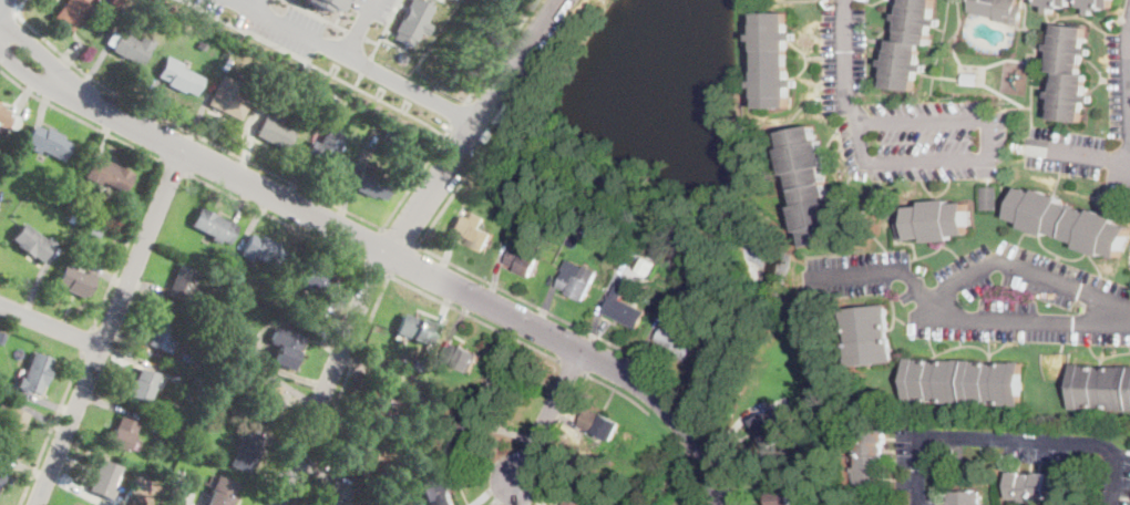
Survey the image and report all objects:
road: (2, 3)
building: (326, 3)
road: (254, 4)
building: (1056, 4)
building: (1097, 4)
road: (19, 6)
building: (998, 10)
road: (339, 11)
building: (71, 12)
parking lot: (369, 12)
road: (317, 14)
parking lot: (1127, 17)
building: (412, 21)
road: (7, 23)
road: (289, 27)
road: (357, 27)
road: (383, 28)
parking lot: (296, 30)
road: (355, 32)
road: (370, 40)
building: (910, 44)
road: (1127, 45)
building: (132, 47)
building: (203, 47)
road: (34, 51)
road: (503, 51)
building: (773, 61)
road: (844, 62)
road: (366, 64)
road: (28, 68)
road: (336, 68)
building: (265, 72)
building: (1070, 73)
building: (178, 76)
road: (358, 79)
road: (411, 86)
road: (1126, 94)
building: (227, 97)
building: (0, 102)
building: (335, 111)
parking lot: (1118, 113)
road: (461, 115)
parking lot: (902, 116)
road: (79, 117)
building: (8, 120)
road: (191, 132)
building: (274, 132)
building: (390, 136)
building: (48, 142)
parking lot: (1065, 150)
road: (1083, 152)
building: (327, 154)
road: (989, 157)
road: (175, 167)
building: (107, 173)
road: (417, 178)
building: (370, 182)
building: (485, 182)
building: (810, 186)
building: (989, 198)
building: (543, 214)
road: (276, 217)
building: (71, 218)
building: (934, 220)
building: (1070, 221)
building: (214, 226)
building: (472, 229)
building: (93, 231)
road: (399, 238)
road: (397, 239)
building: (32, 241)
road: (127, 244)
road: (935, 248)
road: (1050, 249)
building: (263, 250)
road: (1056, 256)
building: (523, 260)
road: (376, 268)
road: (418, 268)
road: (1025, 271)
building: (629, 272)
building: (665, 275)
building: (75, 280)
building: (317, 280)
building: (579, 282)
building: (184, 285)
building: (281, 288)
parking lot: (987, 292)
building: (624, 310)
road: (551, 313)
building: (225, 318)
road: (475, 318)
road: (969, 318)
building: (721, 321)
road: (51, 324)
road: (110, 328)
building: (242, 328)
building: (413, 328)
building: (163, 332)
building: (870, 334)
building: (677, 338)
building: (238, 339)
road: (88, 340)
building: (285, 347)
building: (460, 357)
building: (191, 358)
building: (418, 364)
building: (779, 367)
road: (572, 368)
building: (34, 373)
building: (512, 380)
building: (964, 382)
building: (141, 384)
building: (1101, 388)
road: (341, 389)
building: (813, 389)
building: (484, 391)
road: (618, 391)
building: (376, 392)
building: (266, 400)
building: (203, 409)
road: (548, 414)
building: (11, 423)
building: (600, 423)
building: (771, 427)
road: (51, 429)
building: (162, 429)
road: (670, 430)
building: (121, 434)
building: (465, 434)
road: (1014, 437)
building: (410, 444)
building: (245, 450)
building: (358, 450)
building: (872, 458)
building: (583, 470)
building: (2, 473)
building: (104, 477)
road: (697, 477)
building: (1038, 487)
building: (439, 491)
building: (173, 492)
building: (219, 492)
building: (596, 493)
building: (336, 495)
building: (577, 497)
building: (783, 497)
building: (607, 498)
building: (964, 498)
building: (164, 503)

